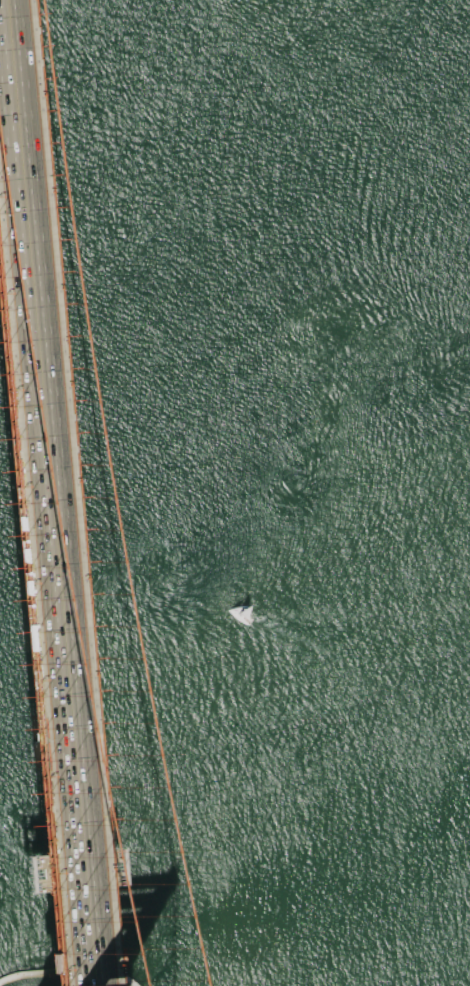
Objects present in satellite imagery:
road: (4, 166)
road: (44, 598)
road: (31, 643)
road: (22, 744)
road: (14, 831)

